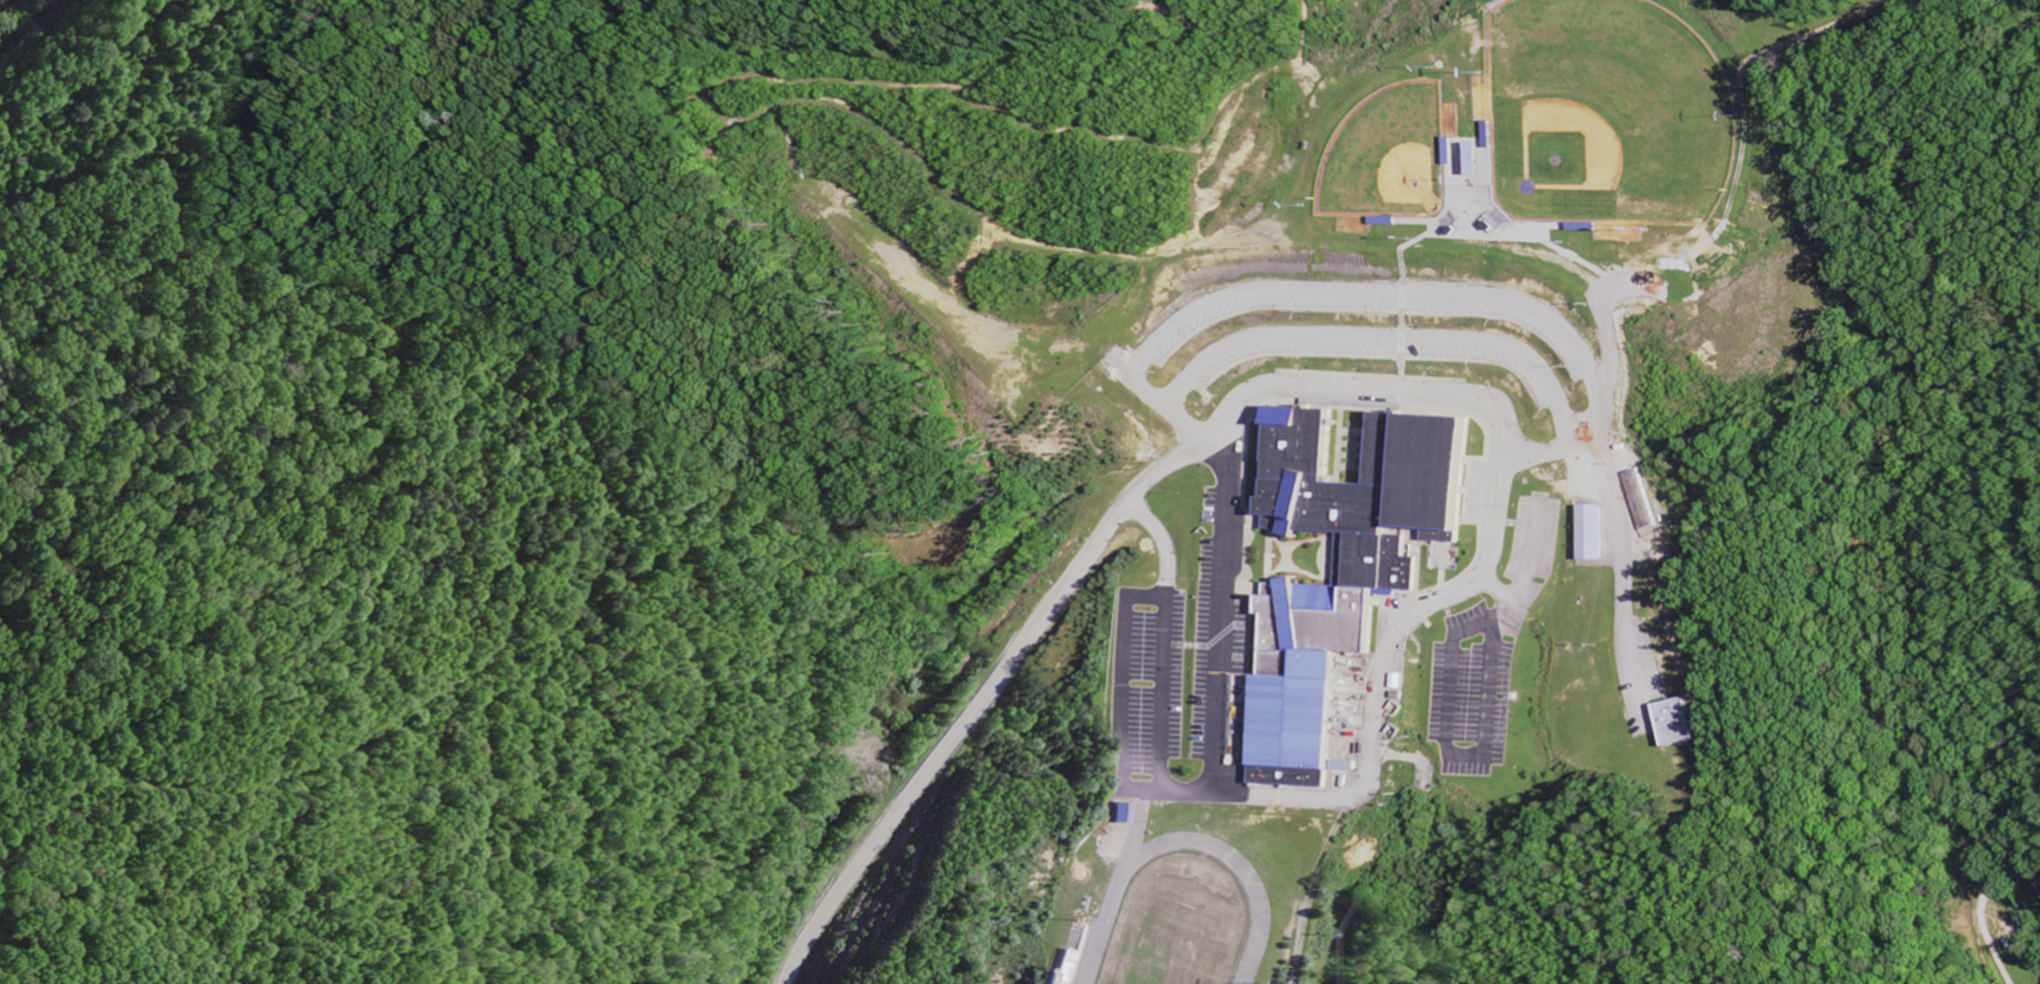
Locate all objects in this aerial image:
road: (1750, 116)
building: (1482, 160)
road: (1334, 292)
parking lot: (1353, 318)
road: (1391, 339)
road: (1608, 397)
building: (1647, 516)
building: (1595, 534)
parking lot: (1540, 548)
road: (1532, 552)
road: (1626, 573)
road: (1388, 667)
road: (1166, 669)
parking lot: (1175, 690)
road: (1129, 693)
parking lot: (1477, 696)
road: (983, 705)
road: (1457, 723)
building: (1680, 724)
building: (1348, 767)
building: (1127, 814)
road: (1313, 889)
road: (1979, 908)
track: (1178, 920)
park: (1171, 944)

